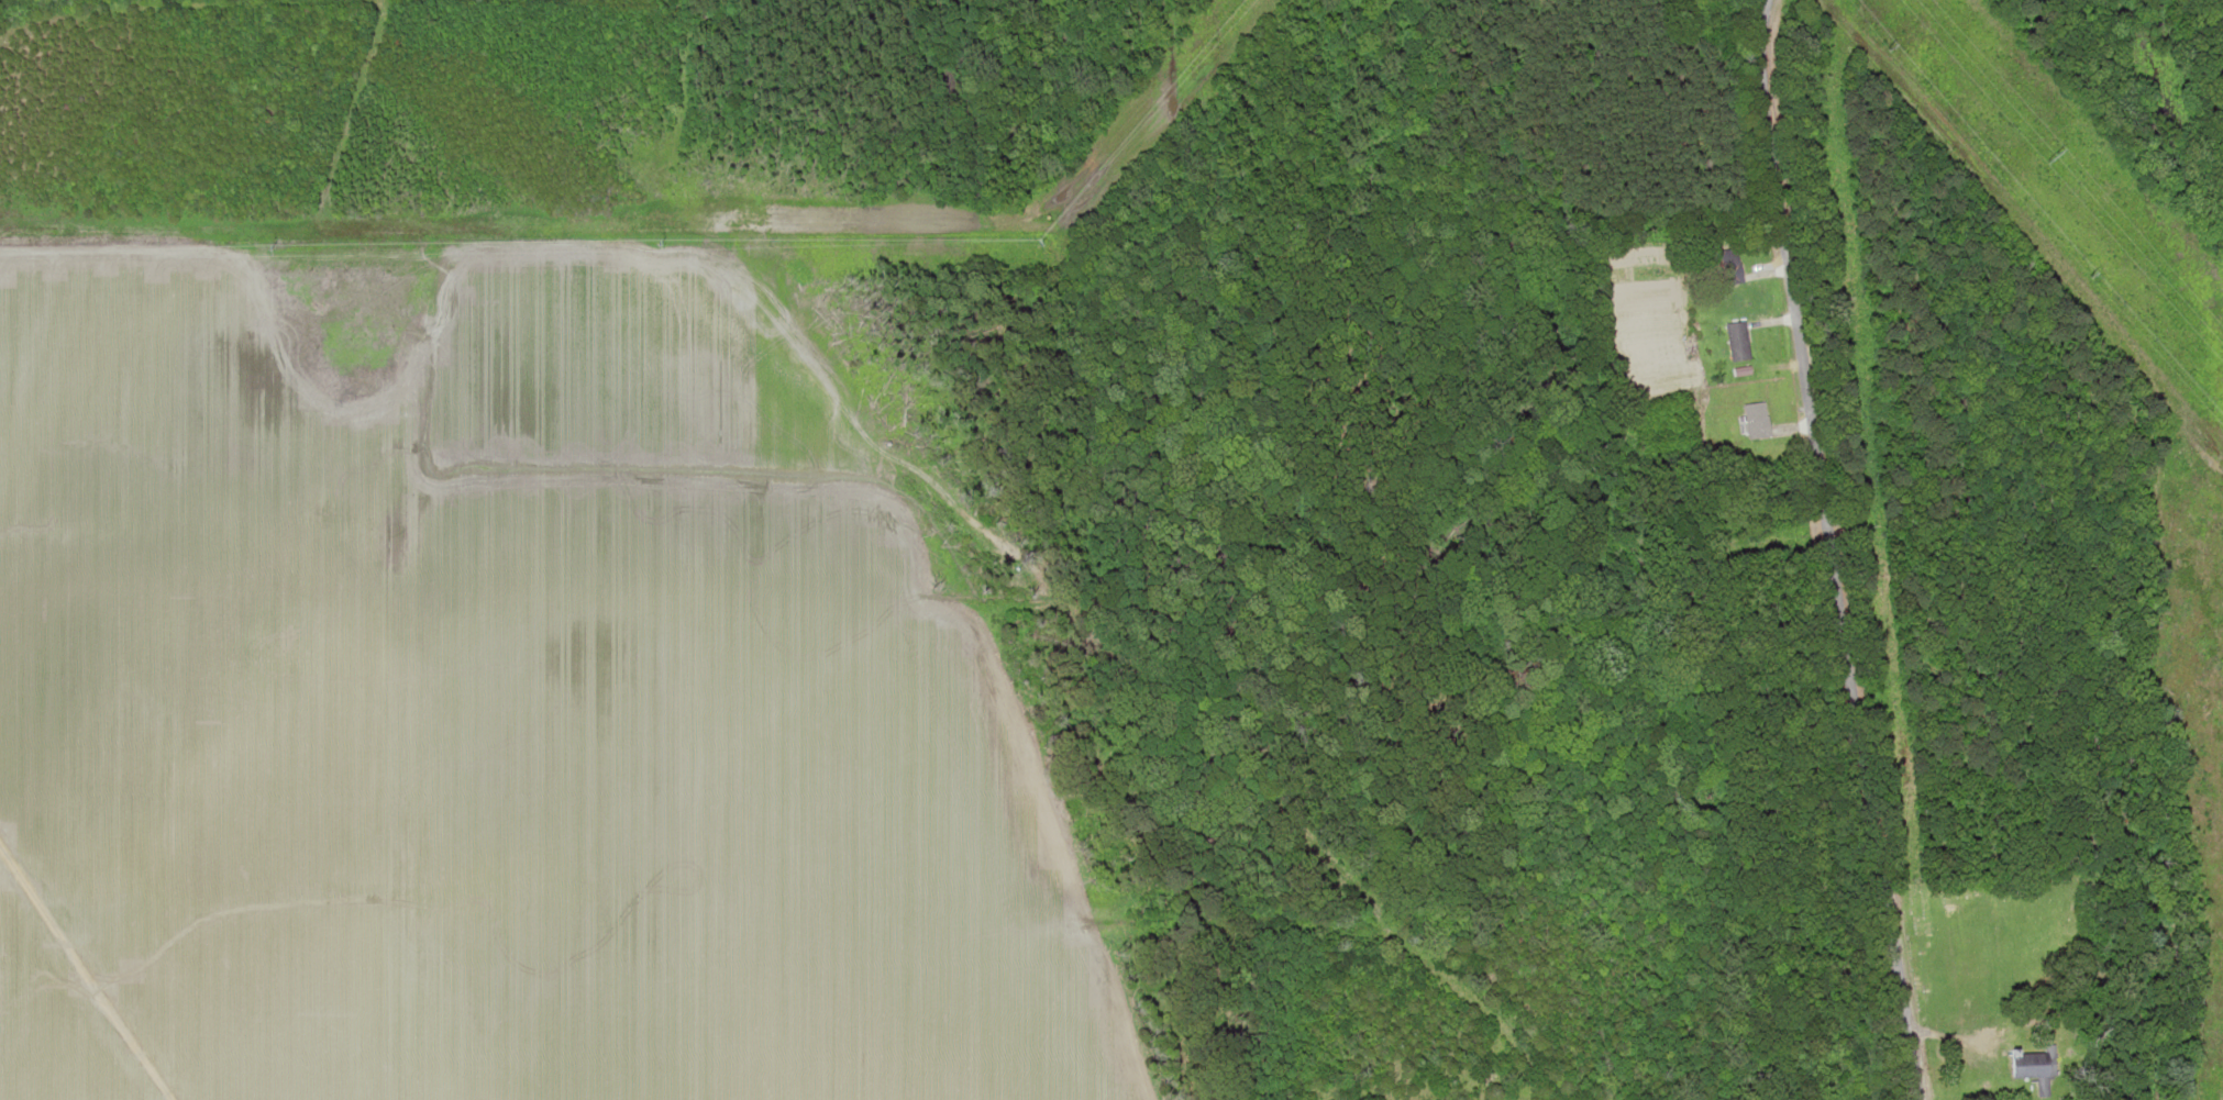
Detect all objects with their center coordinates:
building: (1729, 266)
building: (1736, 340)
building: (1756, 420)
road: (1828, 549)
building: (2034, 1066)

